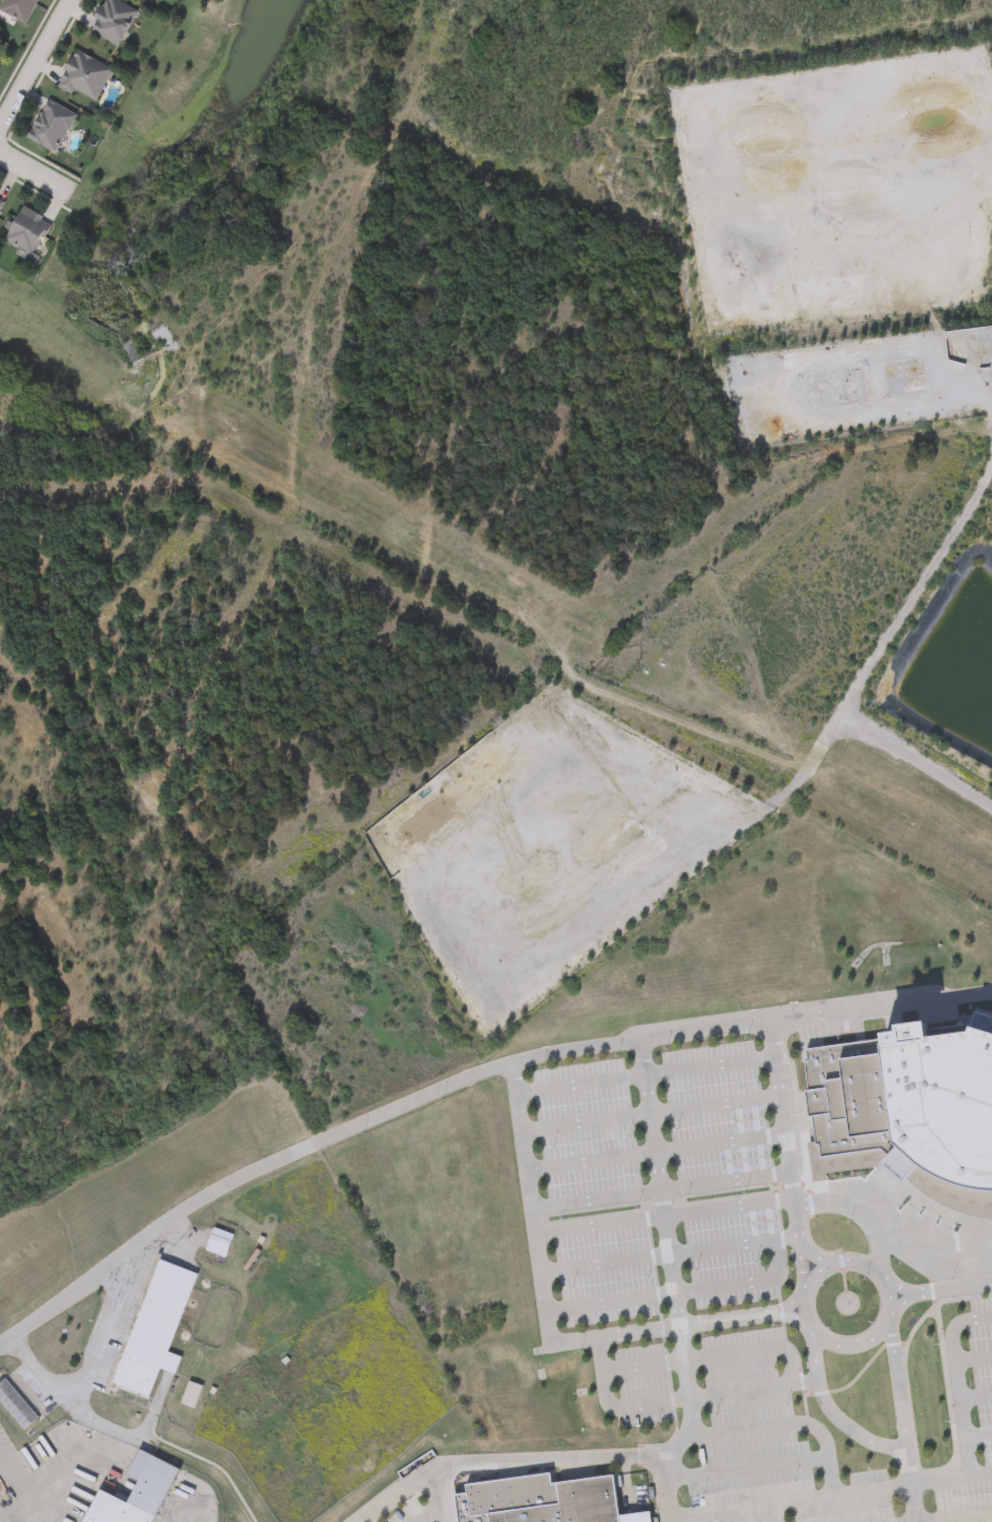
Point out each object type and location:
building: (17, 9)
building: (111, 21)
road: (34, 62)
building: (83, 76)
building: (49, 125)
road: (35, 170)
building: (0, 201)
building: (25, 231)
road: (973, 386)
building: (835, 390)
road: (872, 661)
road: (813, 1014)
road: (638, 1063)
road: (642, 1072)
road: (648, 1114)
road: (784, 1128)
road: (653, 1152)
road: (659, 1194)
road: (894, 1215)
road: (662, 1217)
building: (218, 1243)
road: (811, 1251)
road: (668, 1255)
building: (609, 1257)
road: (802, 1261)
road: (961, 1263)
road: (941, 1291)
road: (679, 1294)
road: (888, 1321)
building: (155, 1328)
road: (546, 1328)
road: (710, 1357)
road: (974, 1360)
road: (95, 1365)
road: (958, 1383)
road: (899, 1385)
road: (976, 1398)
road: (680, 1401)
building: (16, 1405)
road: (834, 1415)
road: (98, 1423)
road: (785, 1424)
road: (978, 1436)
building: (967, 1467)
road: (745, 1473)
road: (952, 1481)
road: (913, 1488)
road: (663, 1489)
road: (441, 1492)
building: (134, 1493)
building: (542, 1500)
road: (790, 1502)
road: (432, 1514)
road: (958, 1517)

